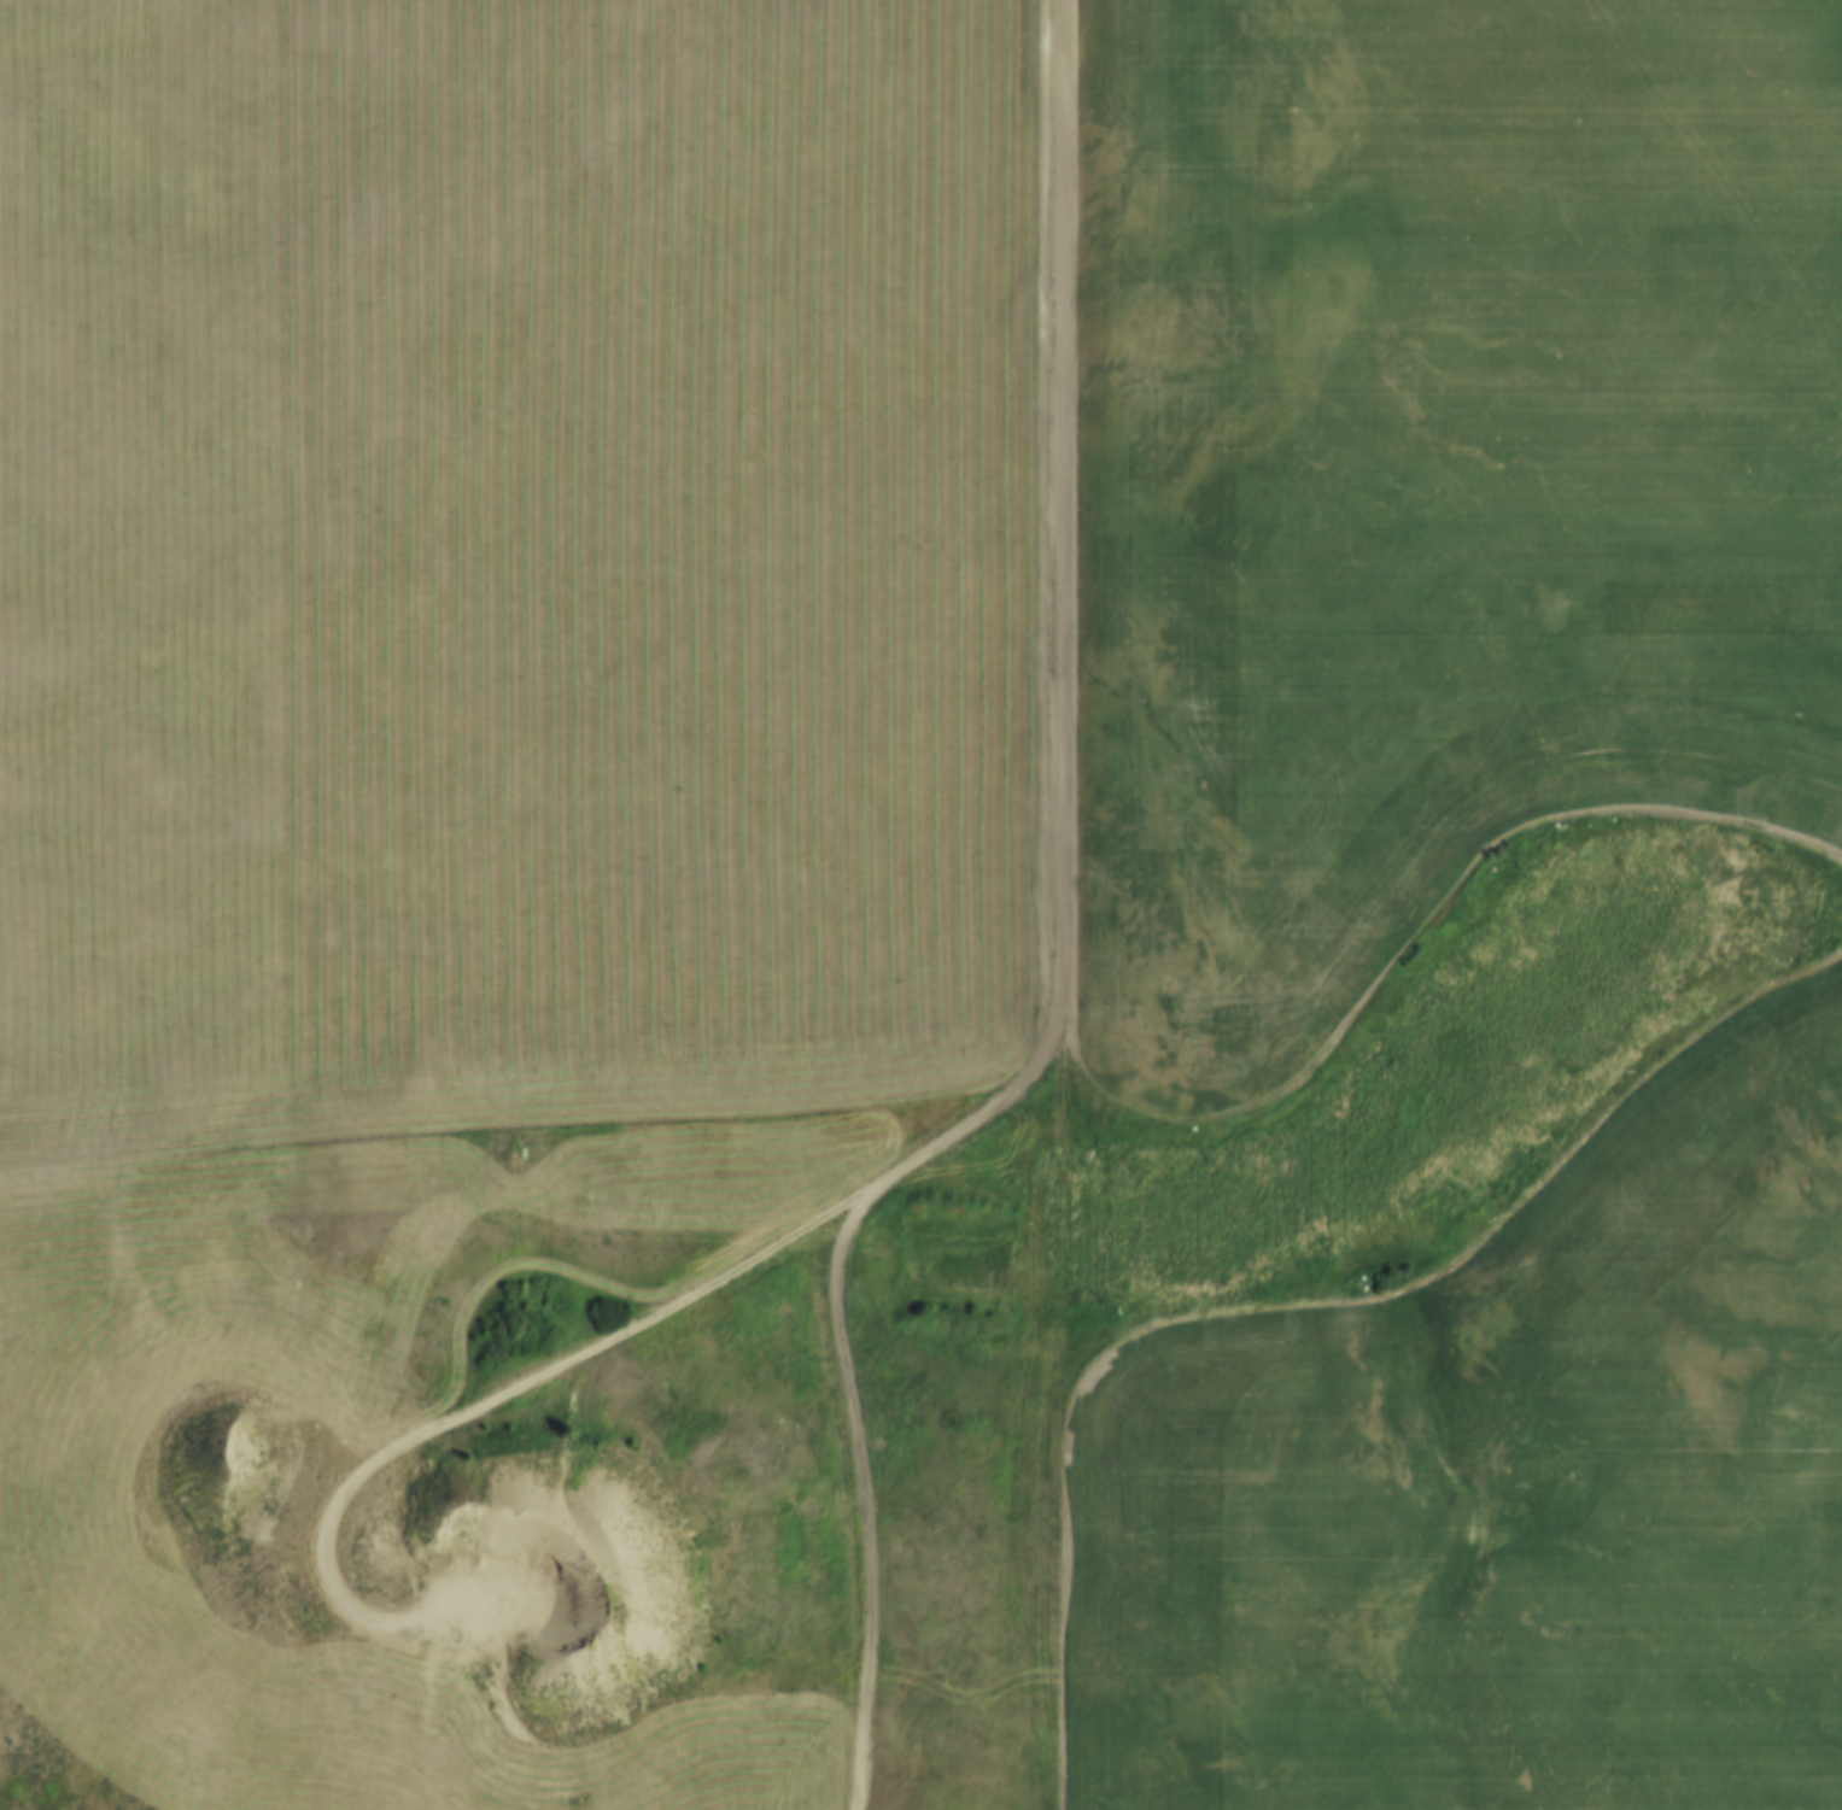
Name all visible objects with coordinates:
road: (1064, 904)
road: (562, 1363)
quarry: (433, 1576)

